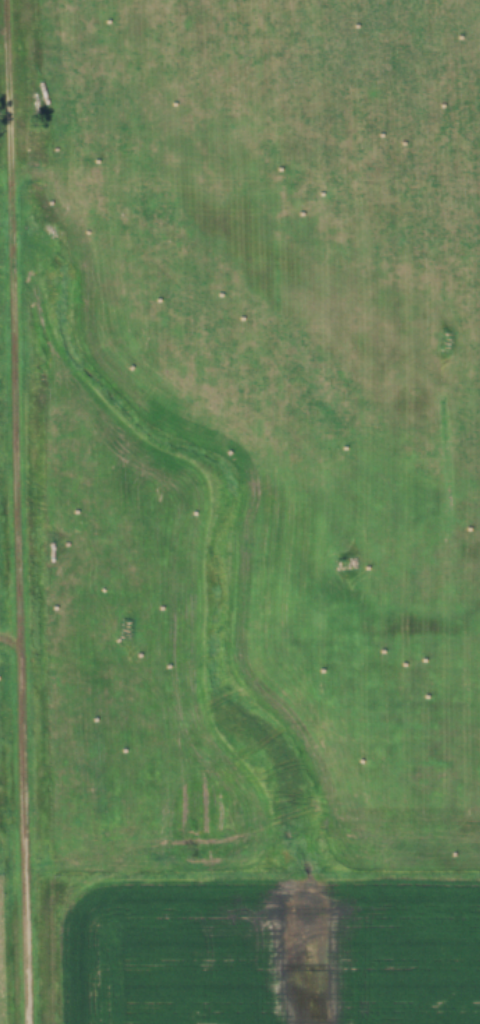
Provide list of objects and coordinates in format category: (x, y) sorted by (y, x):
road: (13, 512)

